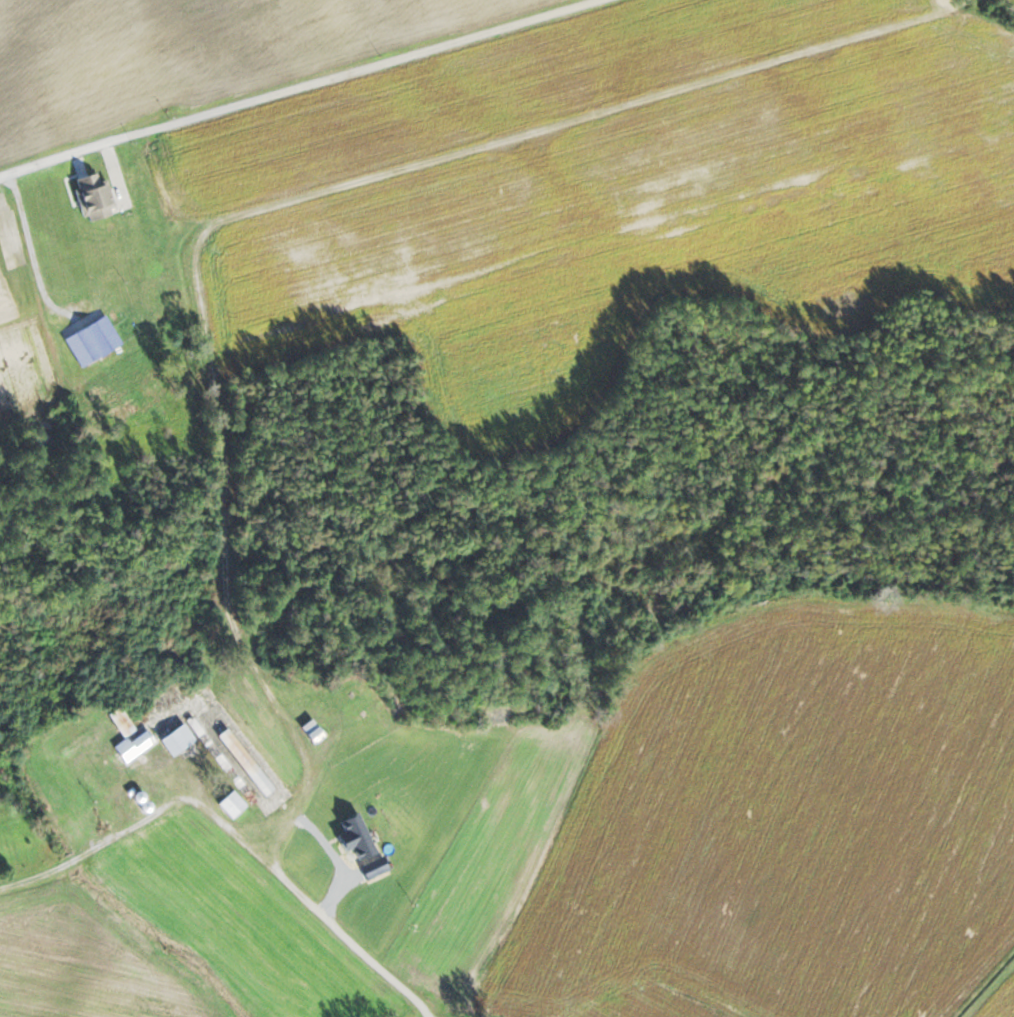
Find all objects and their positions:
building: (90, 196)
building: (93, 339)
building: (305, 685)
building: (118, 721)
building: (175, 739)
building: (132, 746)
building: (244, 762)
building: (229, 805)
building: (421, 983)

